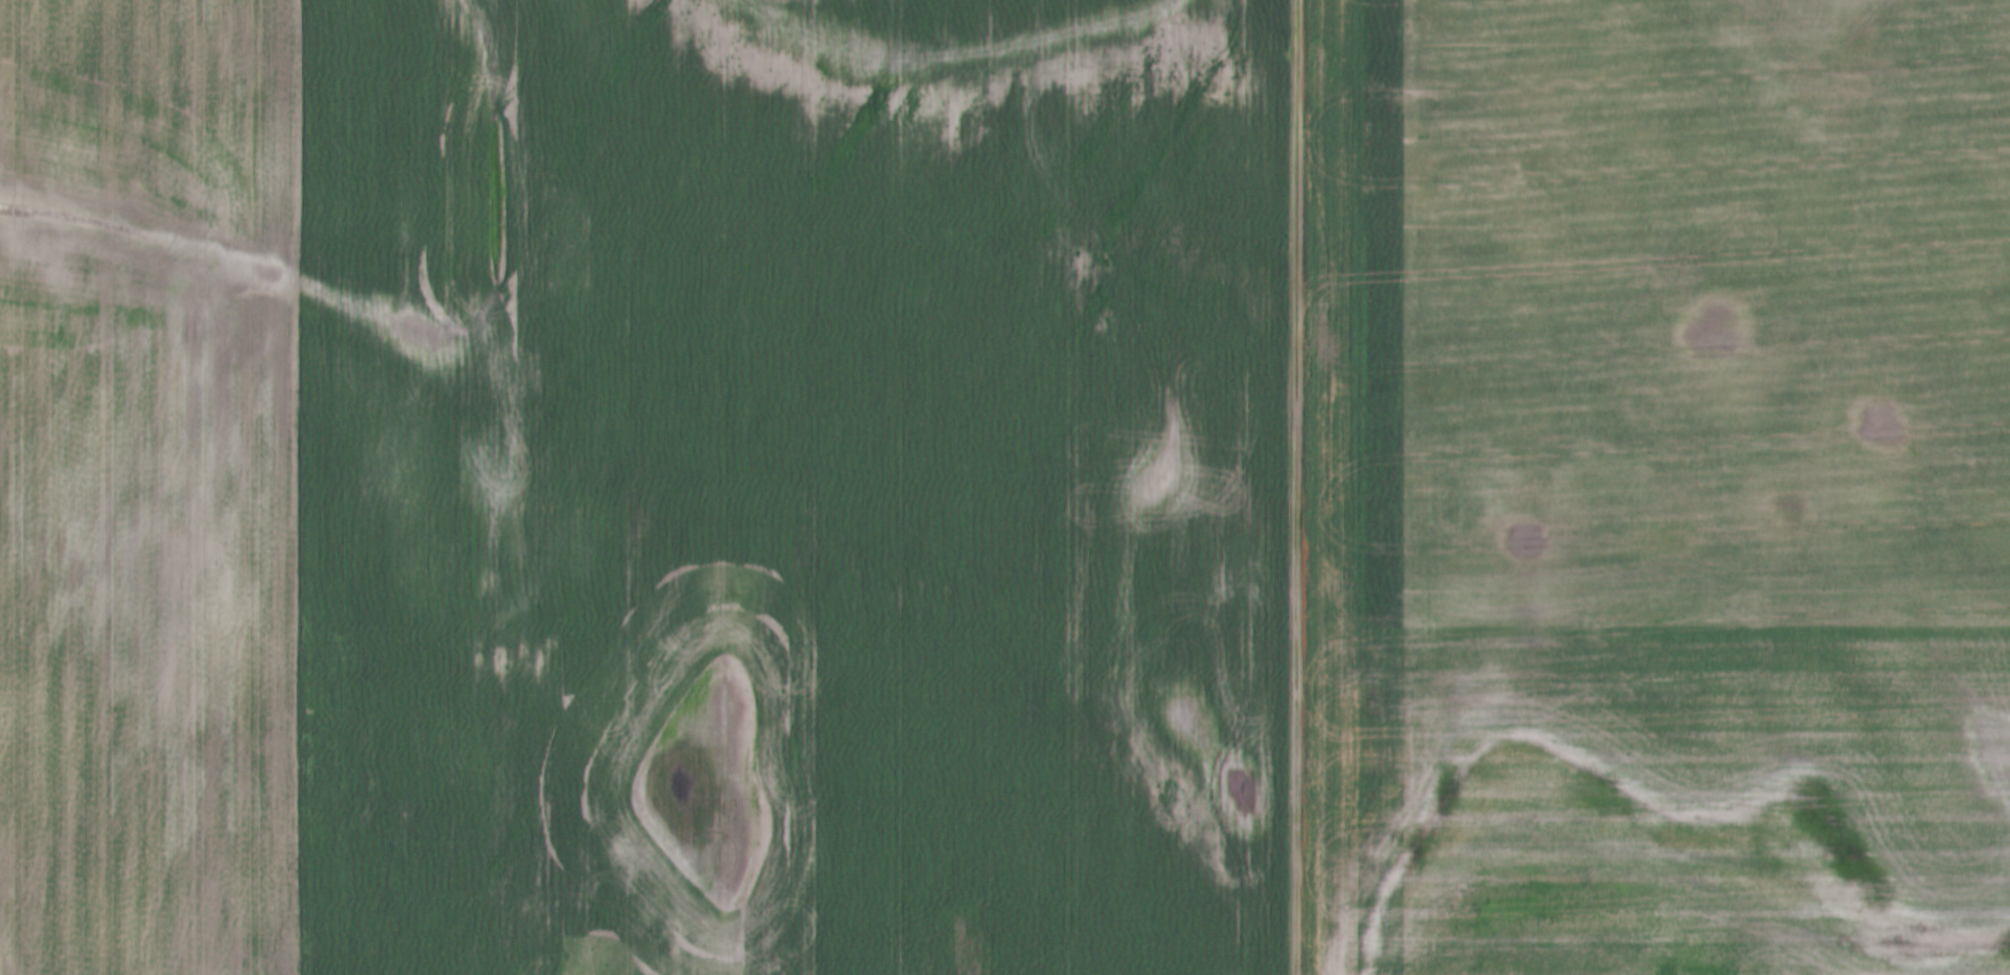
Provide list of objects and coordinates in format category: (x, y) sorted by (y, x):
road: (1301, 487)

